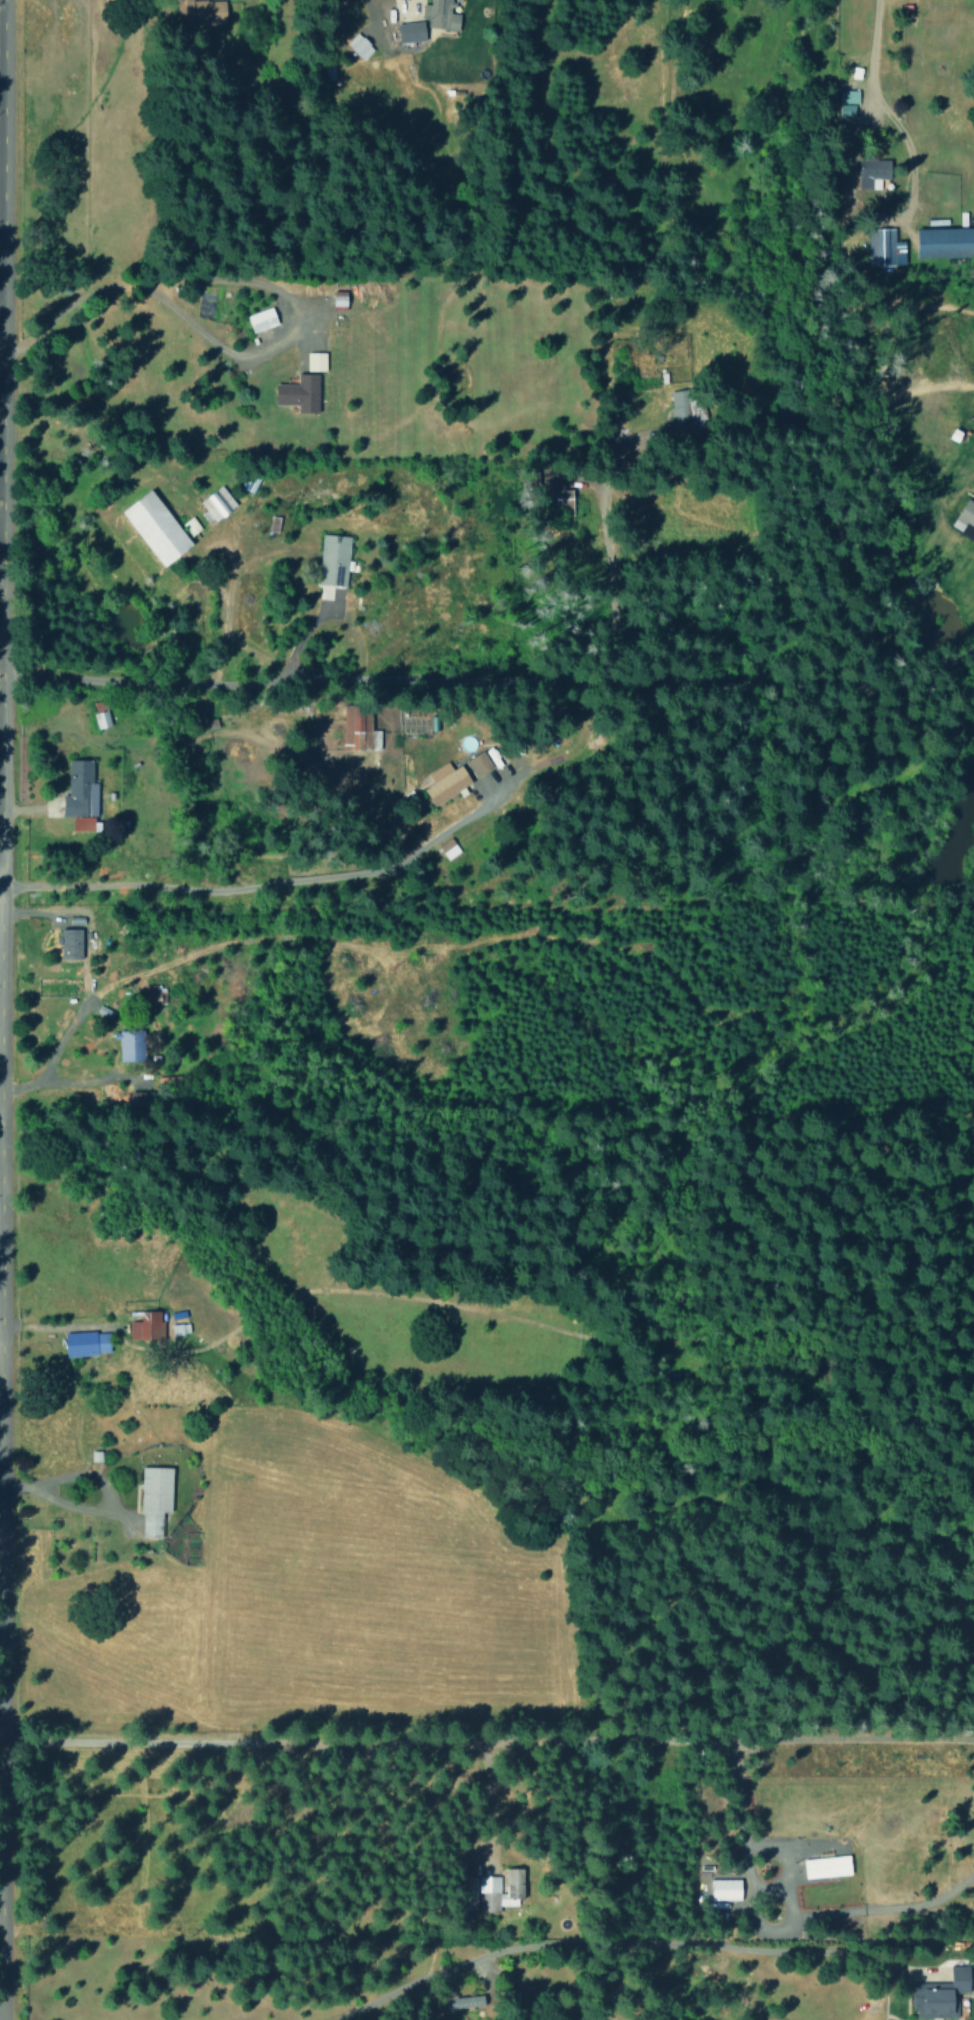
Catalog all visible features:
building: (205, 12)
building: (441, 15)
building: (411, 31)
building: (359, 45)
road: (870, 62)
building: (846, 103)
road: (1, 166)
building: (872, 170)
building: (946, 242)
road: (0, 265)
building: (261, 319)
building: (315, 361)
building: (300, 392)
building: (686, 409)
building: (566, 502)
building: (968, 517)
building: (156, 528)
building: (333, 559)
road: (490, 679)
building: (101, 717)
building: (359, 729)
building: (479, 763)
building: (446, 782)
building: (80, 795)
building: (449, 848)
building: (71, 943)
building: (154, 994)
building: (130, 1045)
building: (141, 1097)
building: (146, 1326)
building: (179, 1328)
building: (87, 1342)
building: (155, 1498)
building: (827, 1866)
building: (487, 1884)
building: (725, 1889)
road: (610, 1947)
building: (941, 1995)
building: (468, 2001)

